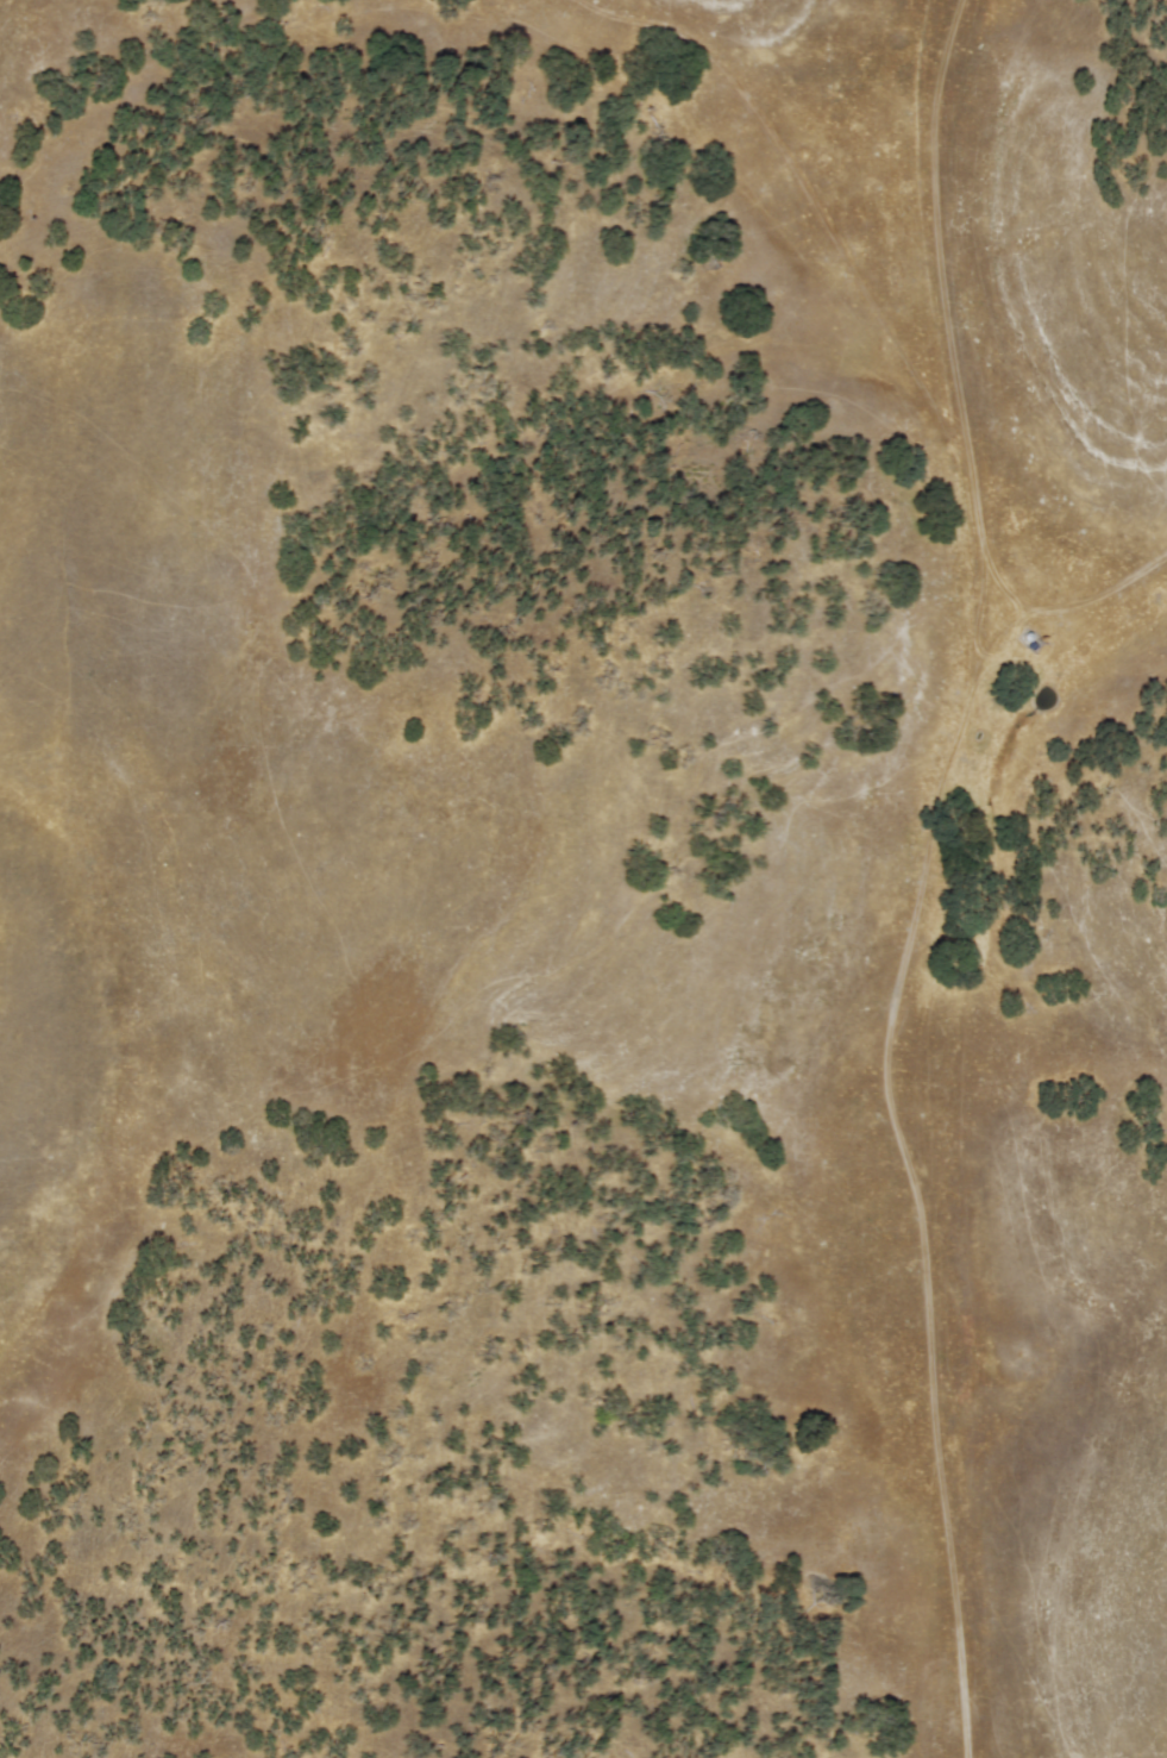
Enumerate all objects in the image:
road: (1067, 612)
road: (916, 876)

